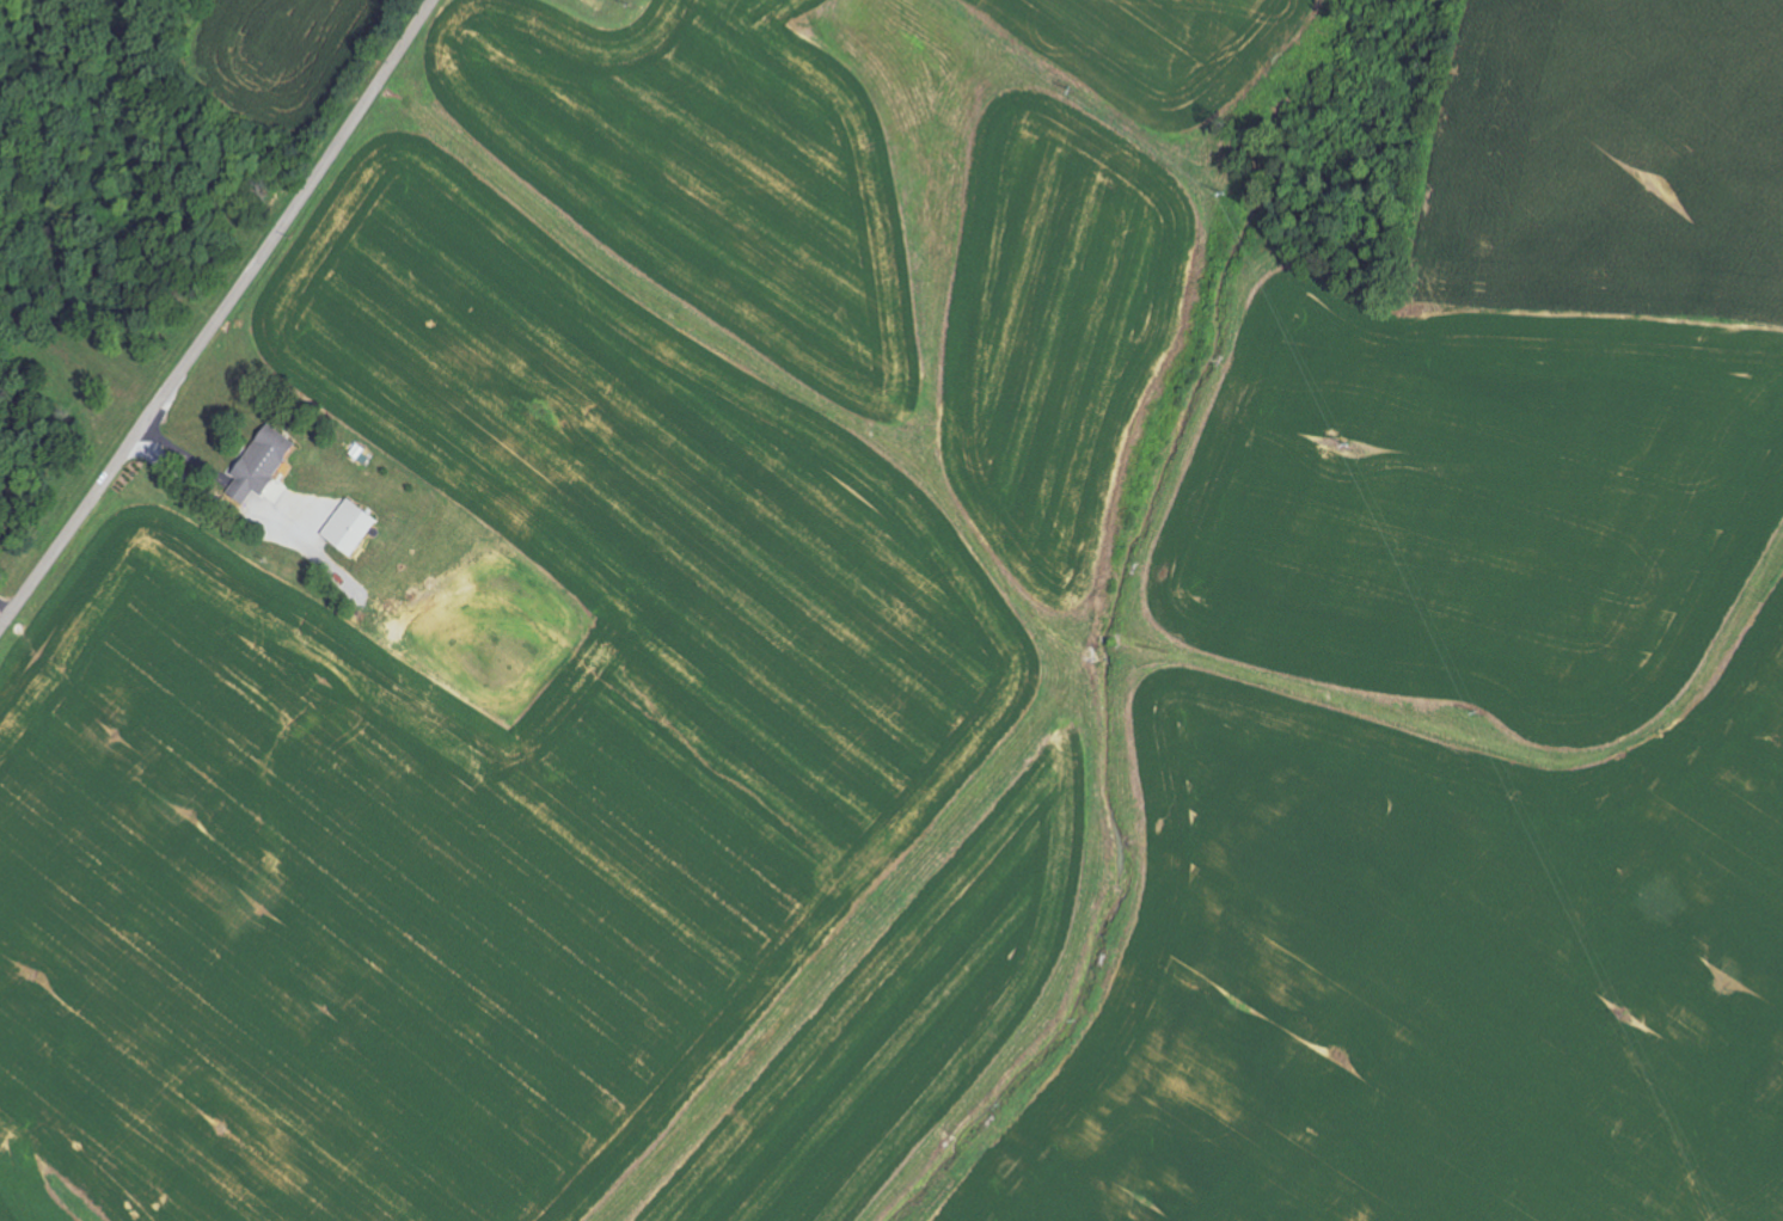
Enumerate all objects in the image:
road: (219, 315)
building: (265, 462)
building: (353, 526)

